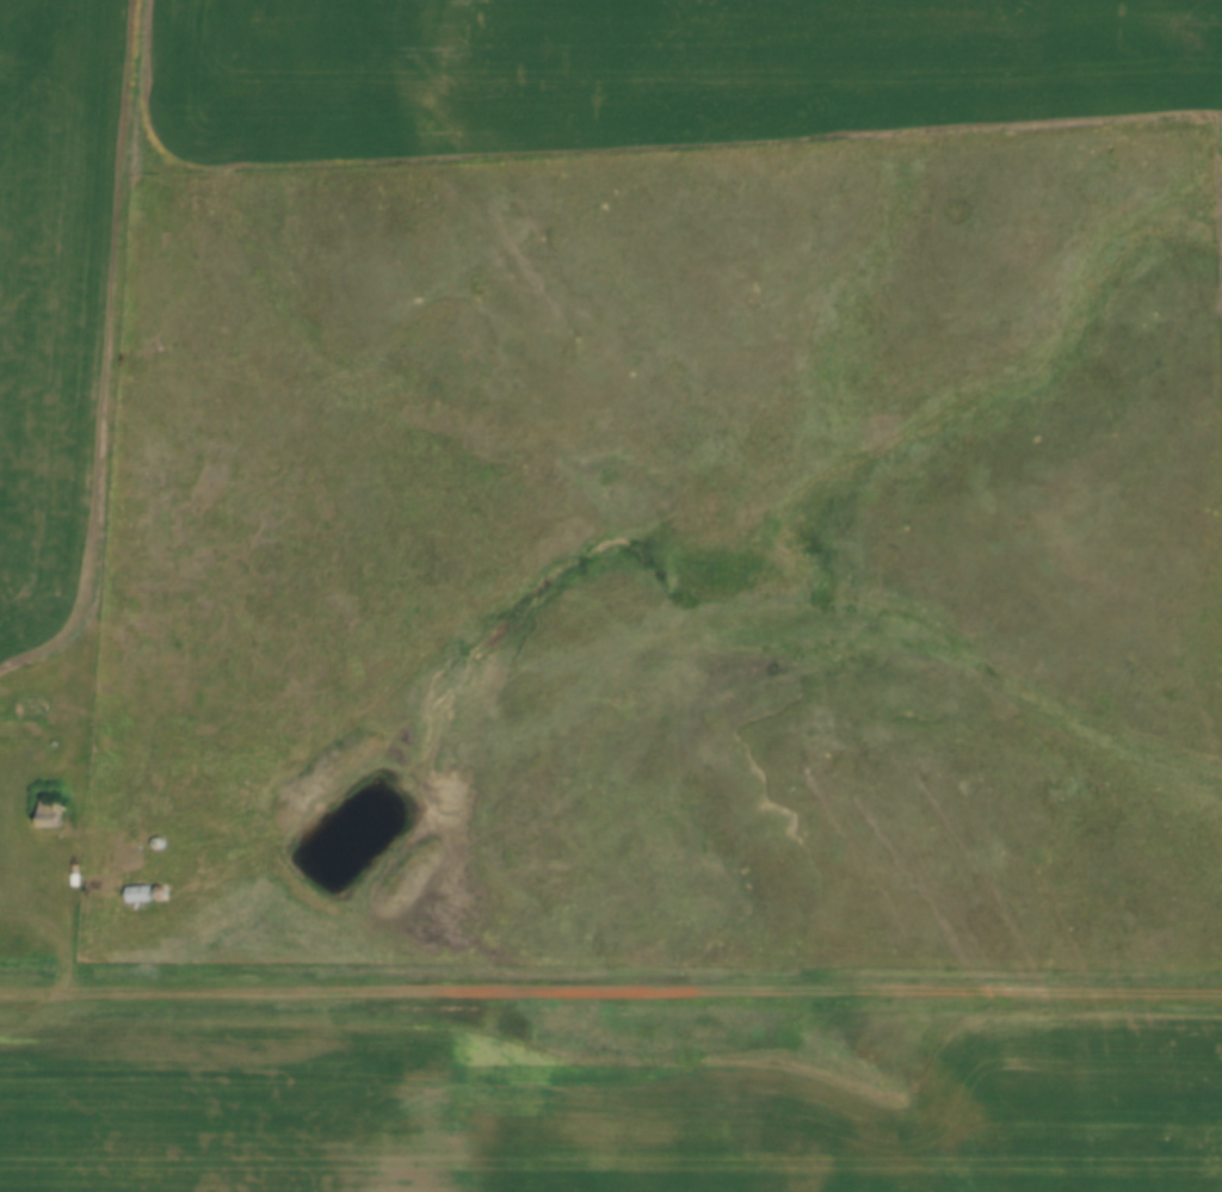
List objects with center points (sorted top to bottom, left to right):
building: (50, 813)
building: (138, 891)
road: (70, 916)
road: (611, 993)

